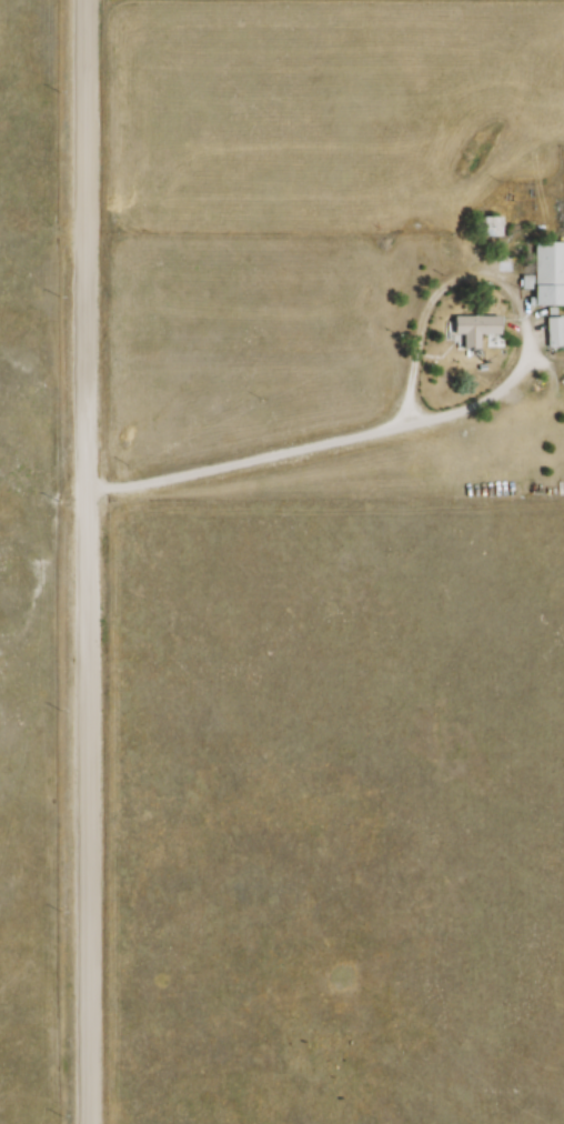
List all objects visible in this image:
building: (484, 227)
building: (544, 274)
road: (425, 311)
building: (471, 327)
building: (551, 332)
road: (353, 433)
road: (85, 561)

